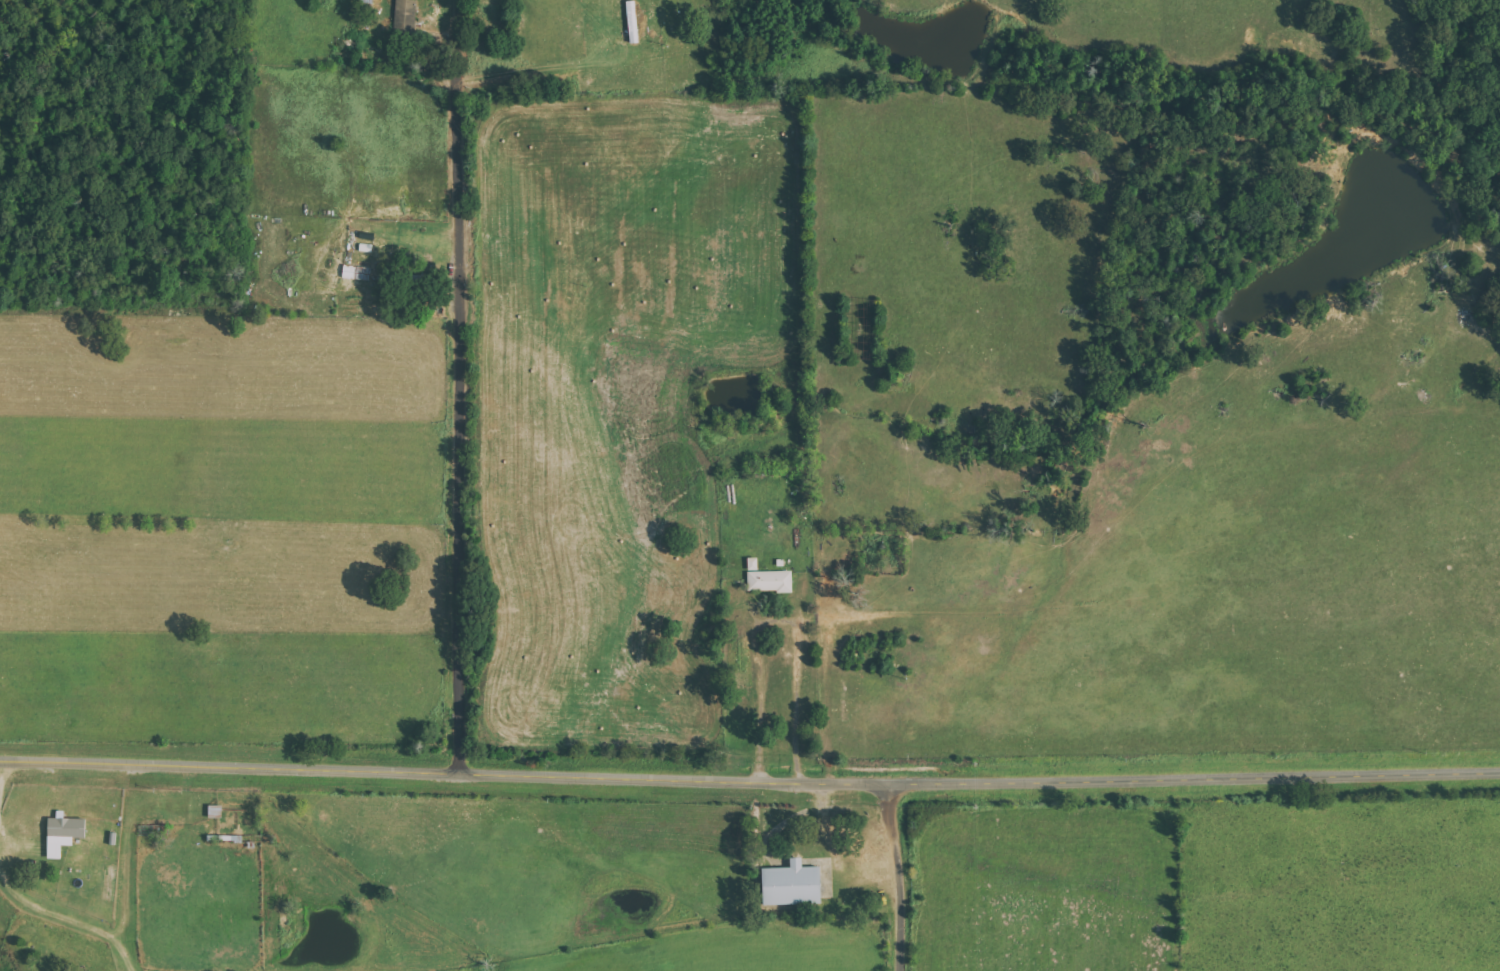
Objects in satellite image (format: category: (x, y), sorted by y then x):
building: (406, 15)
building: (358, 272)
road: (461, 400)
building: (768, 578)
road: (749, 782)
building: (65, 833)
road: (902, 876)
building: (794, 884)

